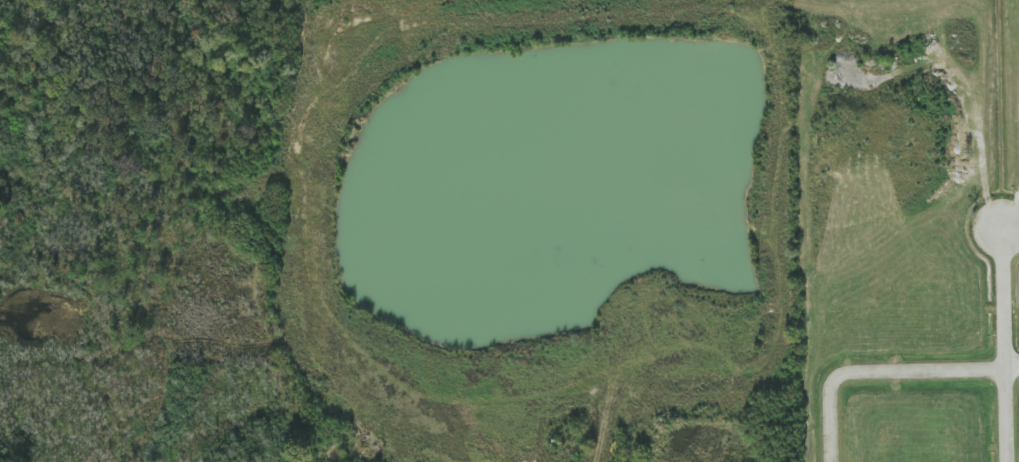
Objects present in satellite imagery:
road: (1006, 344)
road: (1013, 364)
road: (876, 371)

